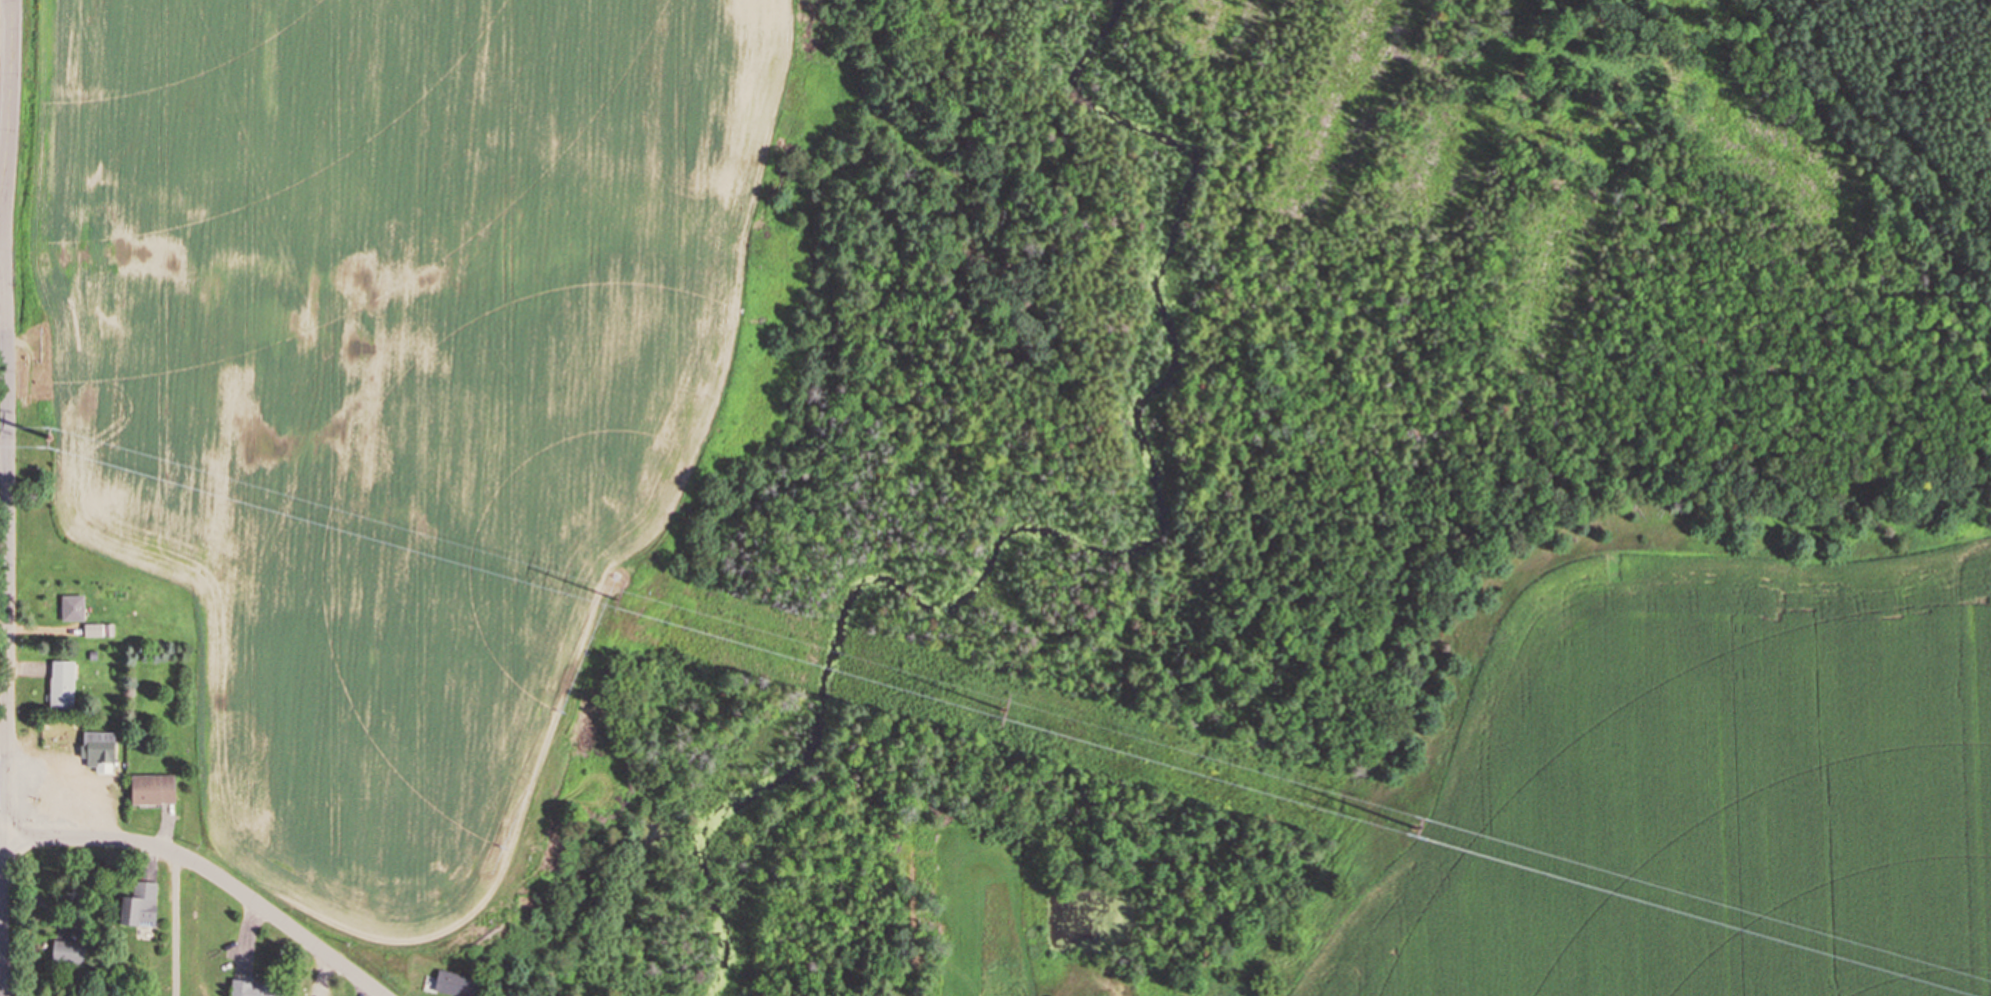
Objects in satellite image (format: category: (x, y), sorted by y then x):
park: (5, 81)
road: (10, 99)
power tower: (48, 437)
road: (3, 455)
road: (6, 573)
power tower: (614, 600)
building: (71, 607)
building: (61, 683)
power tower: (1002, 707)
building: (97, 751)
building: (151, 789)
power tower: (1415, 826)
road: (211, 871)
building: (137, 906)
building: (66, 954)
building: (453, 983)
building: (252, 988)
building: (129, 995)

